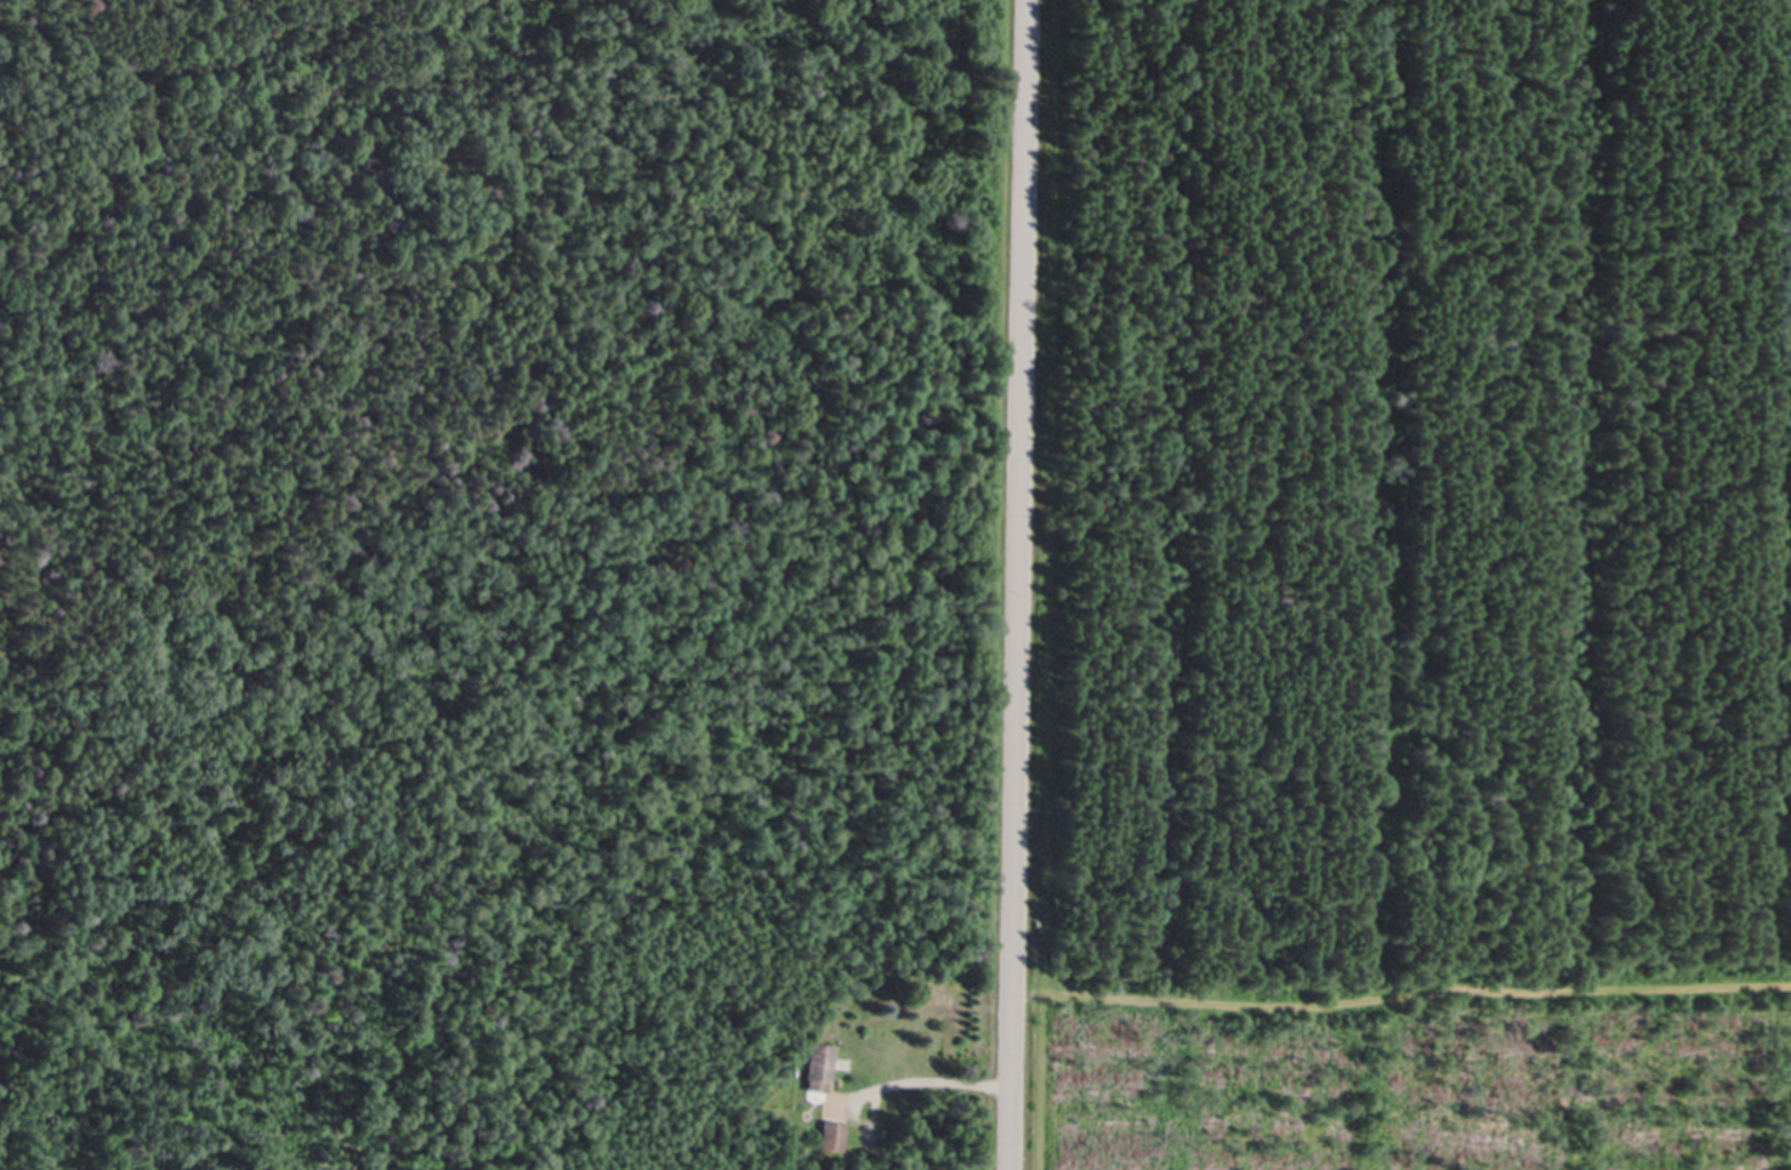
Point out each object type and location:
road: (1022, 585)
road: (1403, 994)
building: (823, 1067)
road: (940, 1079)
building: (835, 1136)

